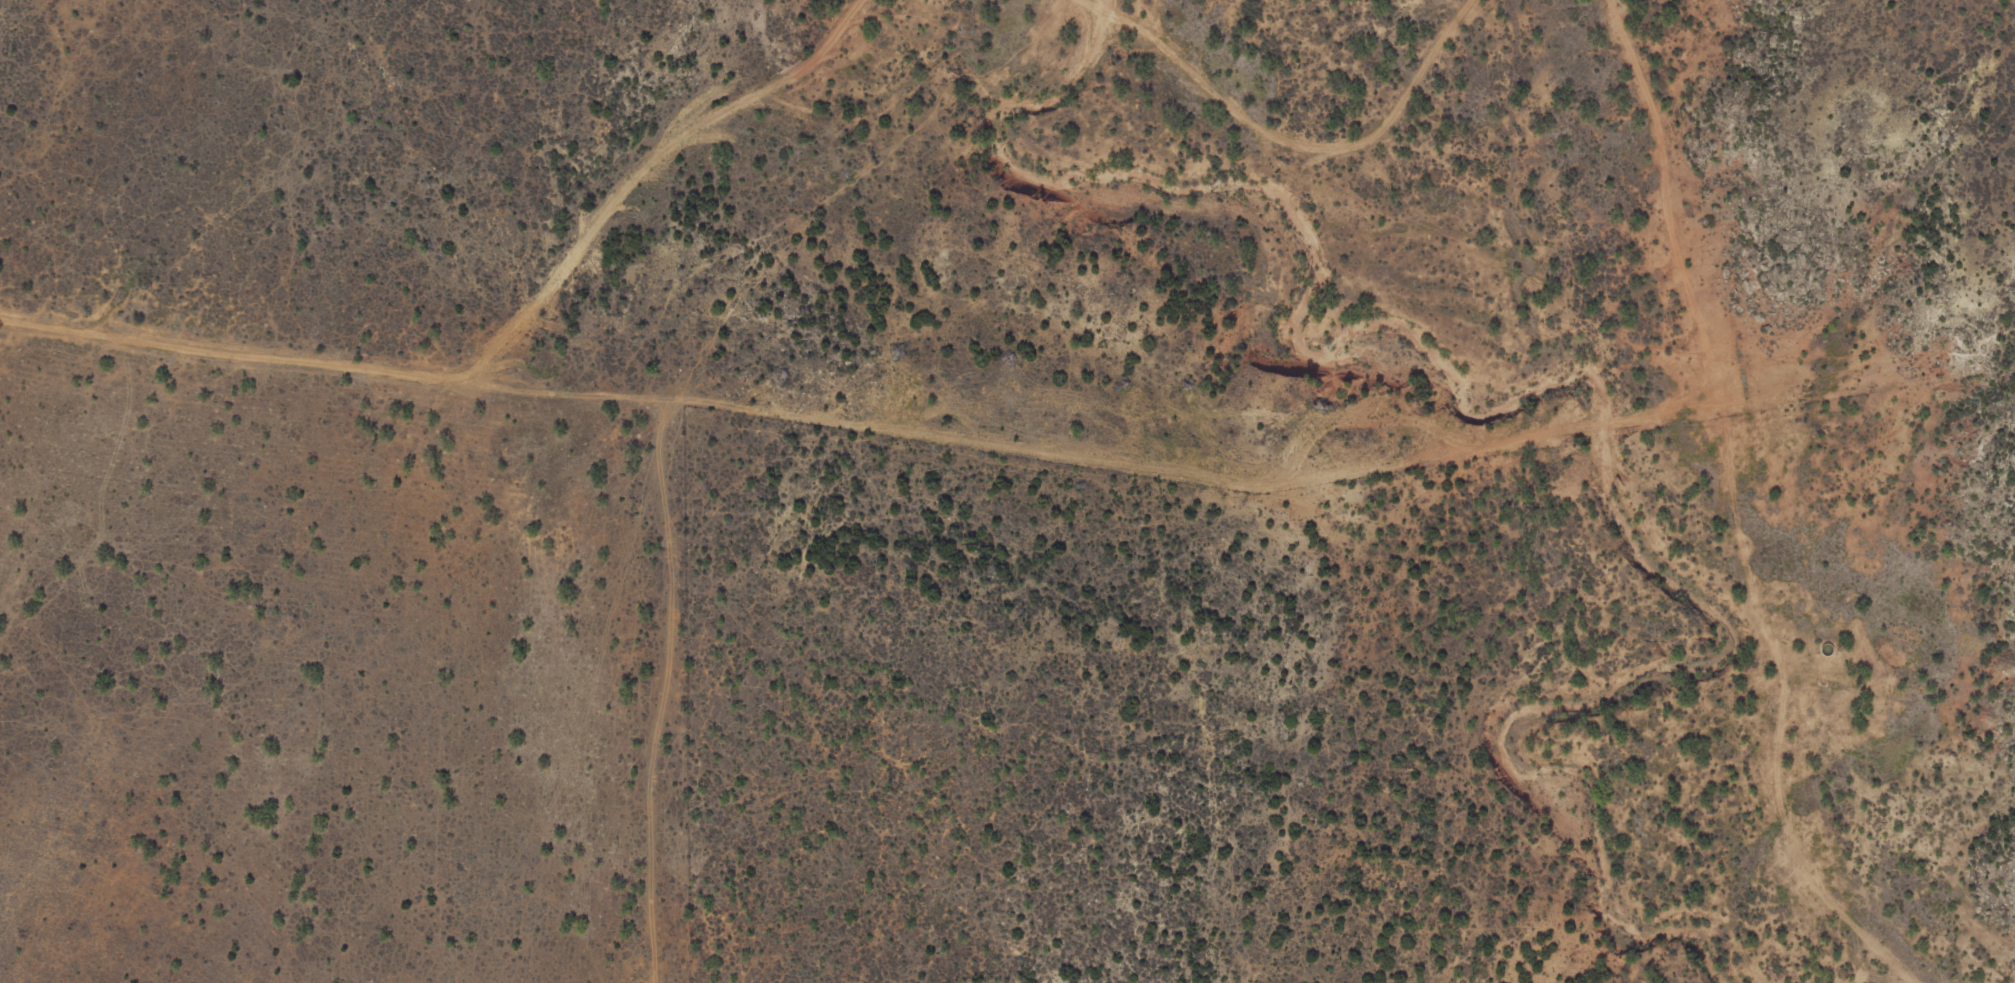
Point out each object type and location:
road: (1684, 304)

